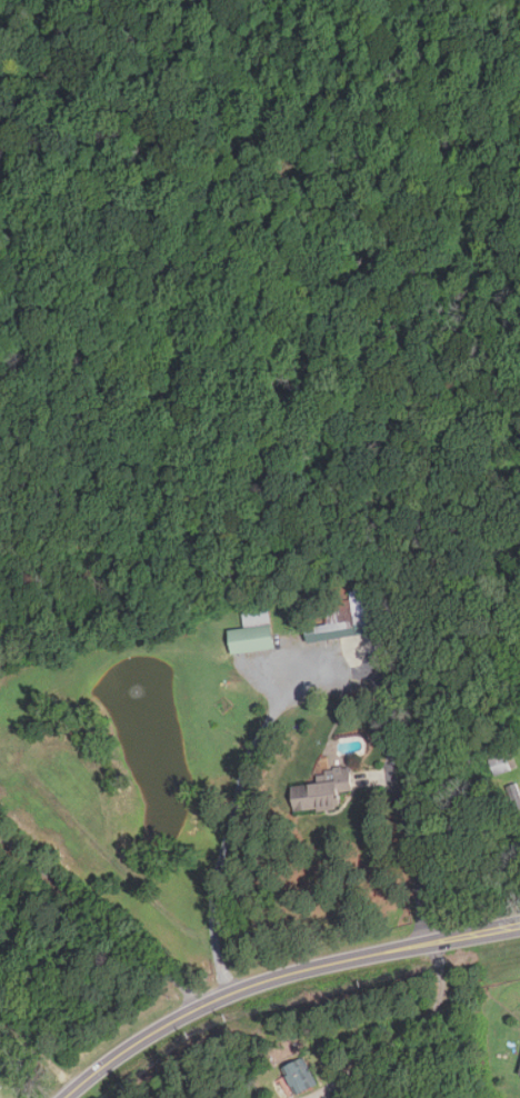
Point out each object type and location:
building: (346, 618)
building: (253, 633)
building: (498, 760)
road: (239, 790)
building: (322, 790)
road: (401, 807)
road: (474, 931)
road: (236, 991)
road: (403, 1031)
building: (300, 1075)
building: (277, 1097)

